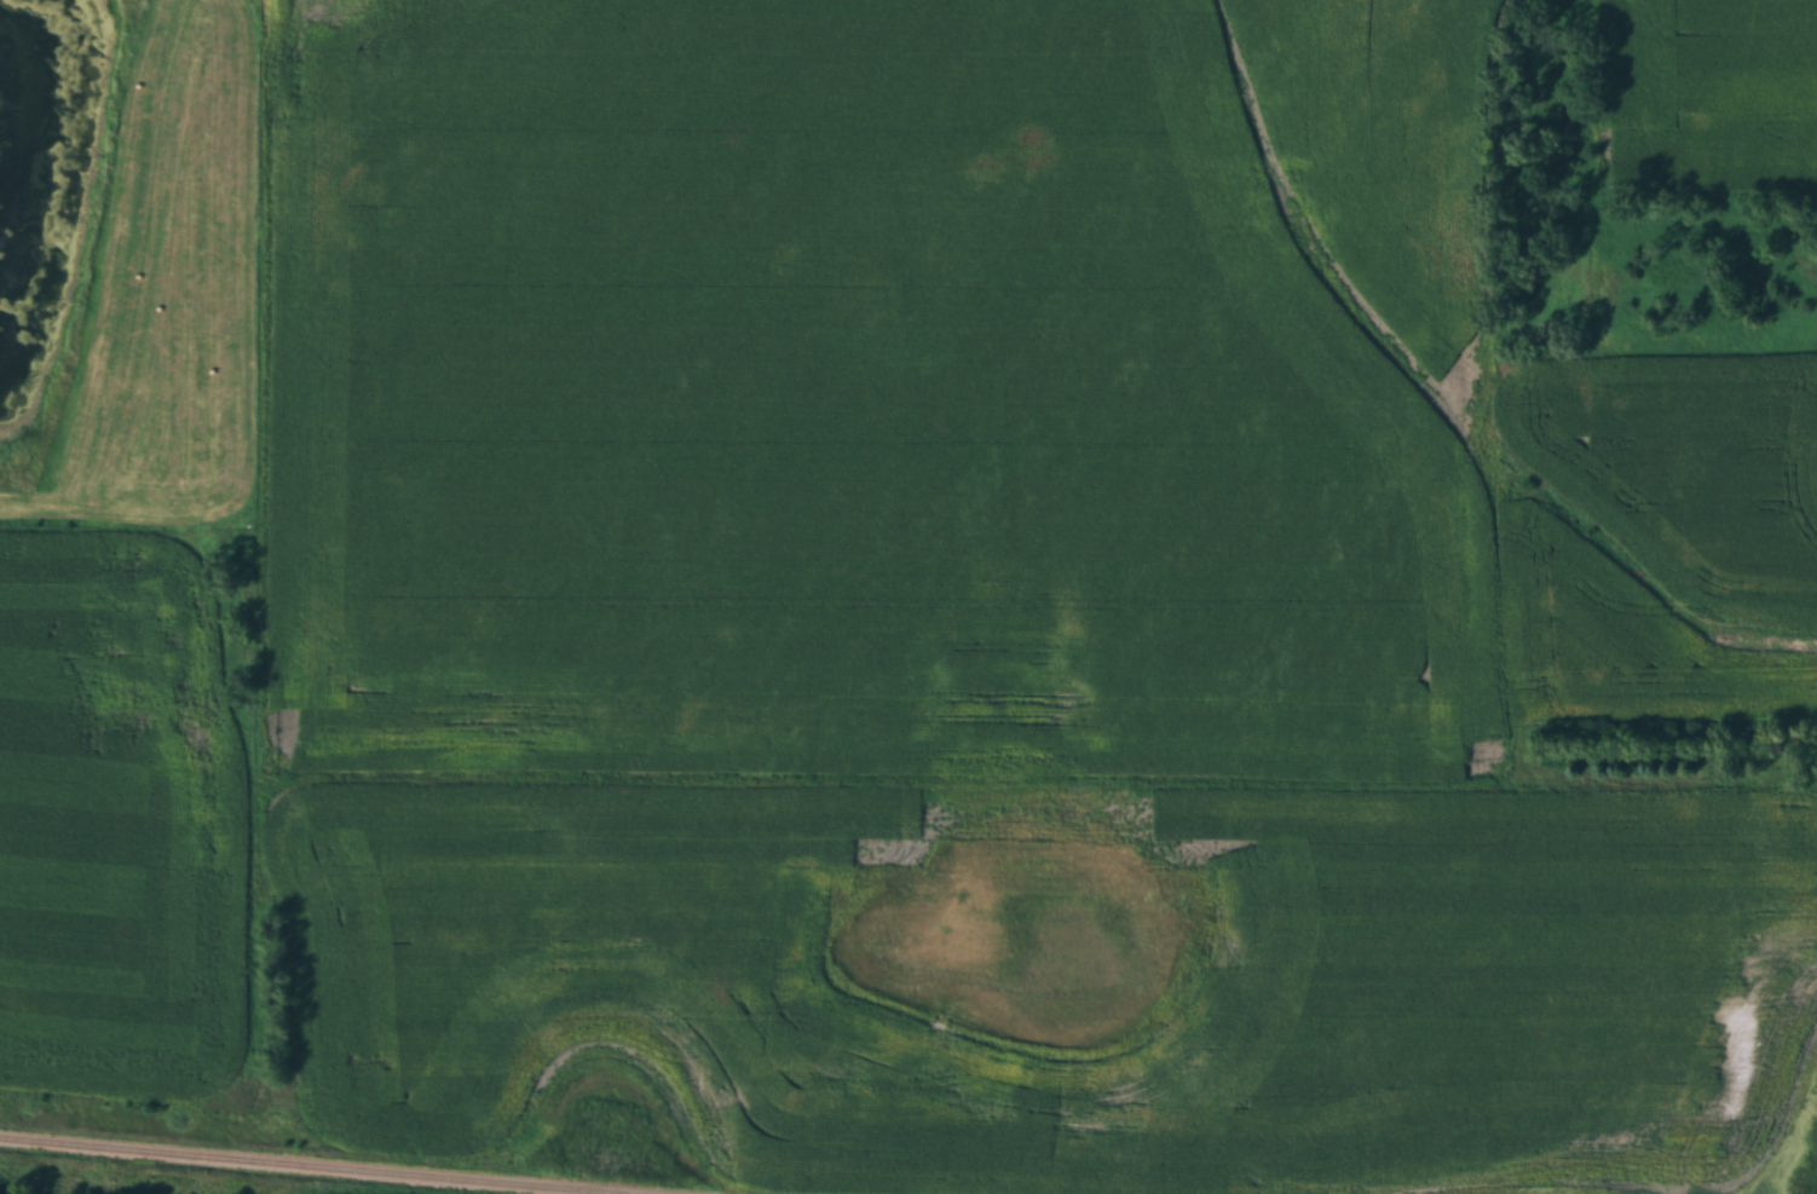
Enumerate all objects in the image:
railway: (307, 1166)

